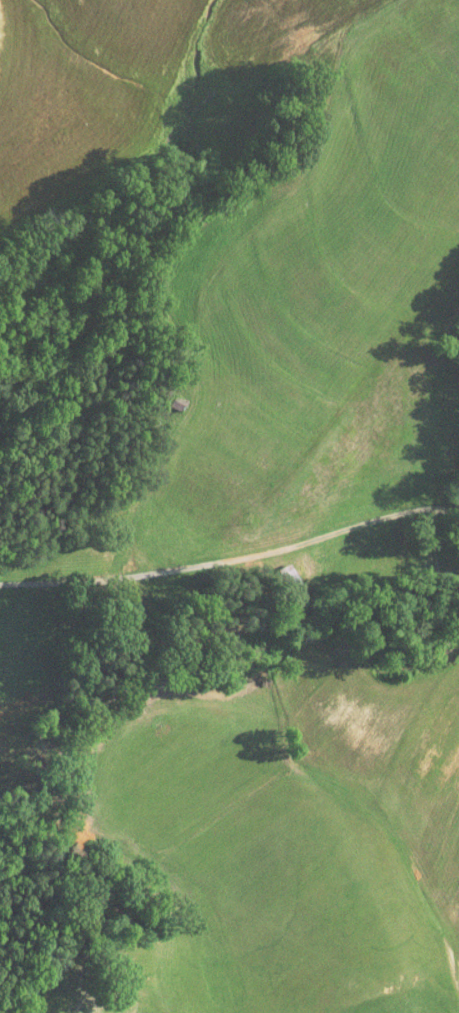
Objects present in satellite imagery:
road: (233, 561)

